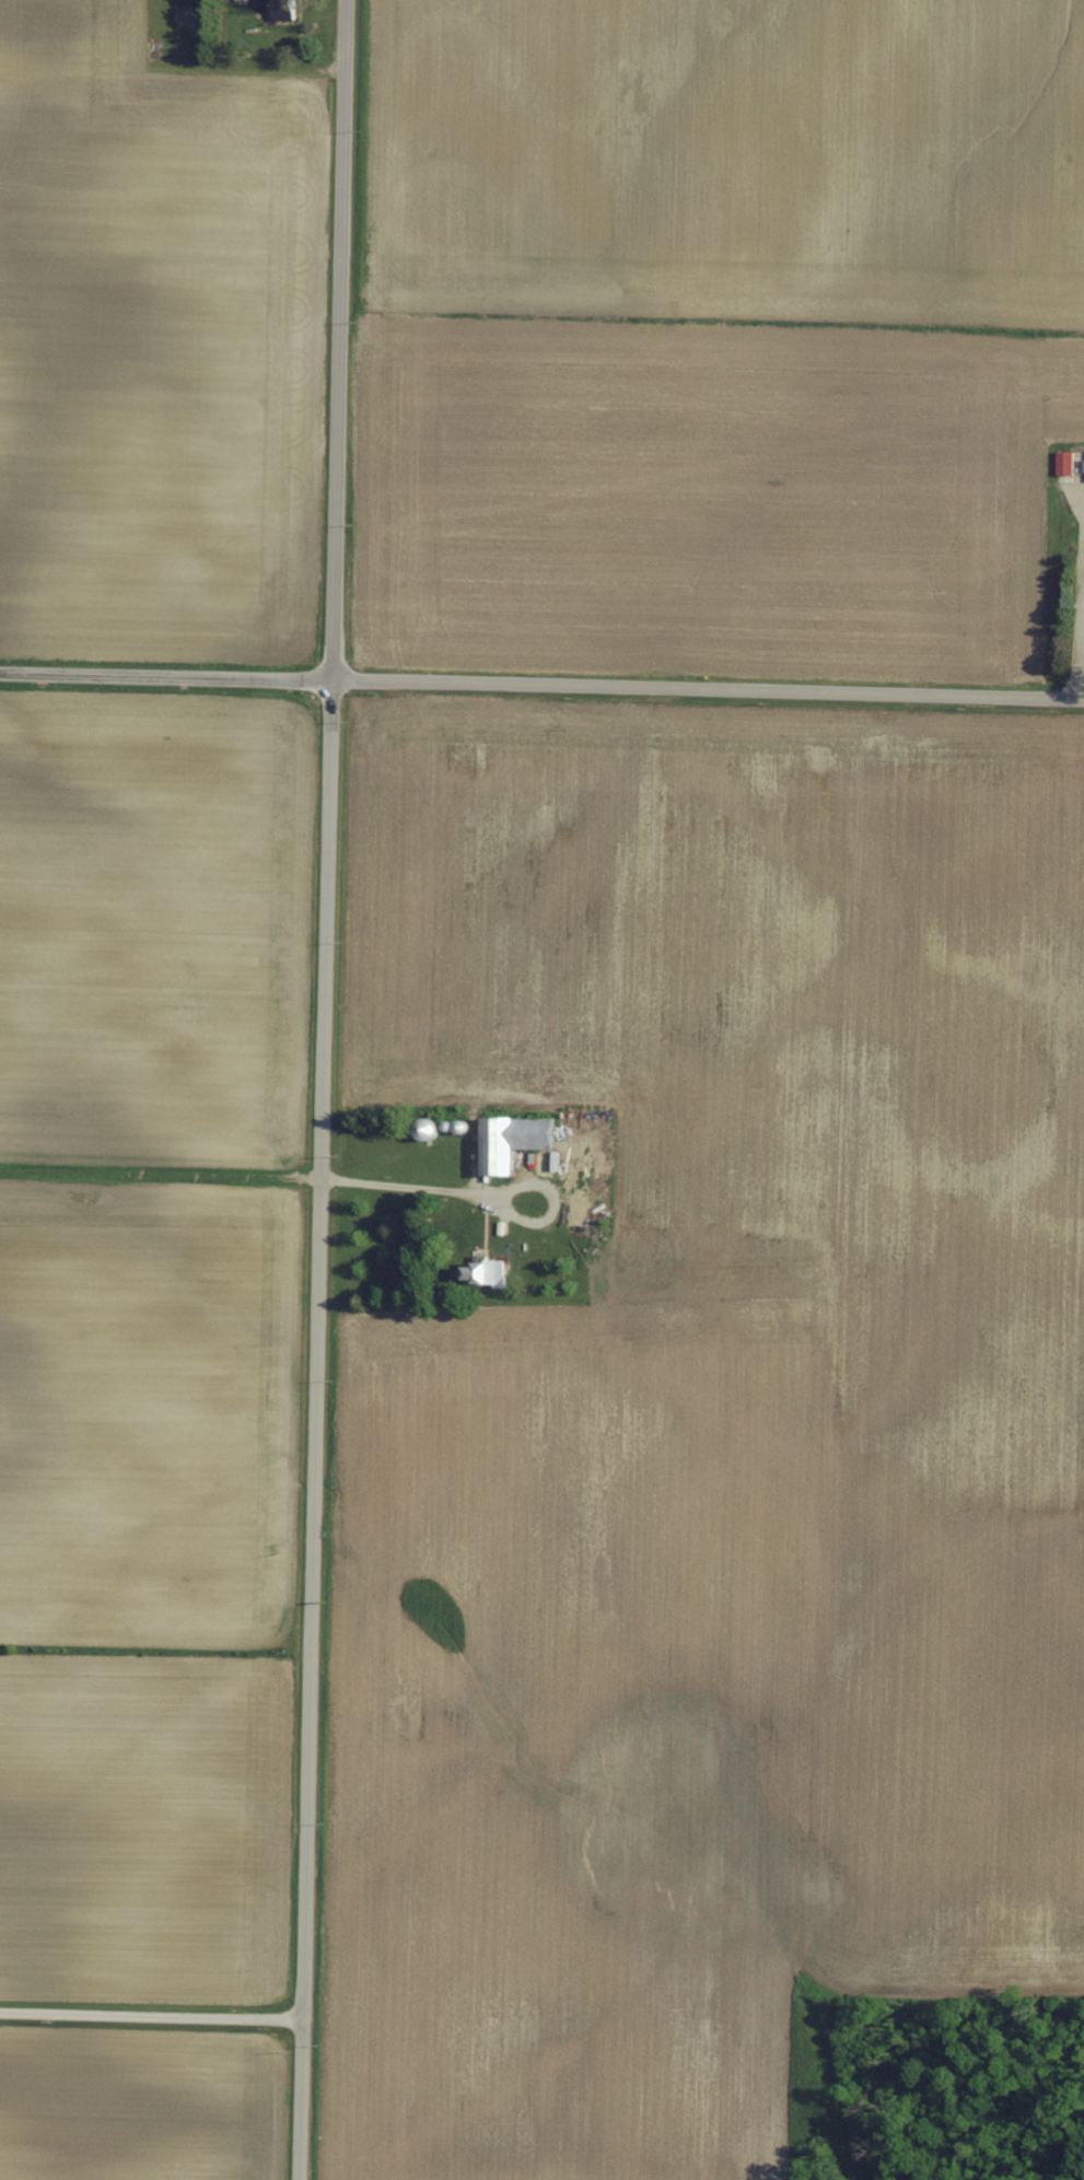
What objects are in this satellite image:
building: (1068, 461)
road: (164, 675)
road: (707, 688)
road: (319, 1089)
building: (520, 1138)
road: (159, 1174)
road: (424, 1192)
road: (533, 1225)
building: (490, 1270)
road: (150, 2018)

